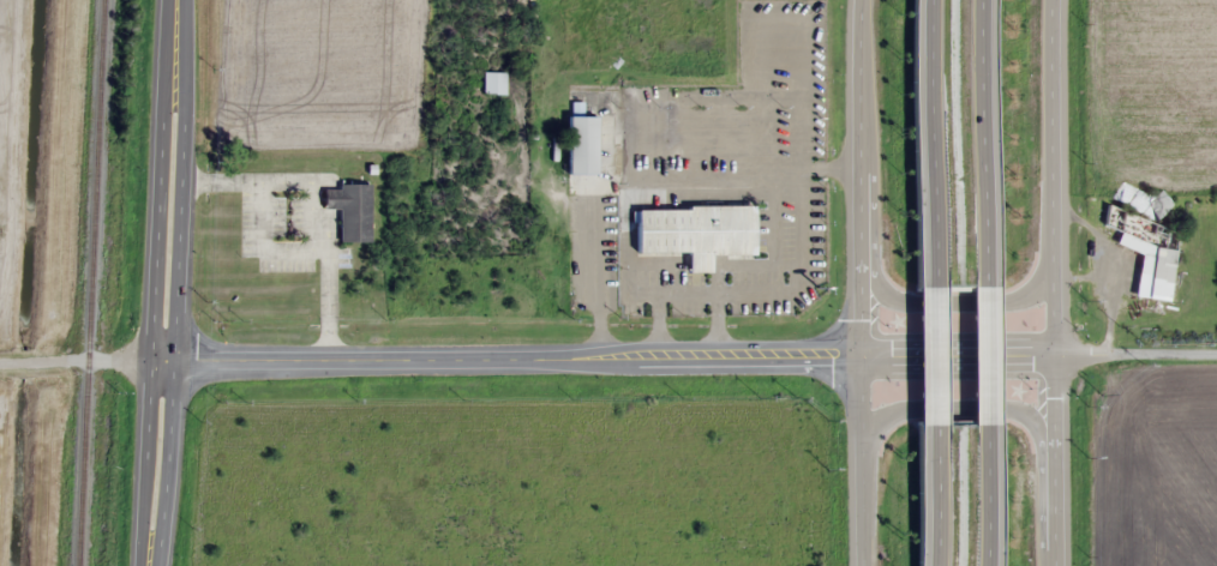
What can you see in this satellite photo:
building: (492, 82)
road: (985, 139)
road: (935, 141)
building: (578, 144)
road: (12, 152)
road: (168, 181)
building: (348, 209)
building: (694, 231)
building: (1146, 251)
railway: (88, 282)
road: (858, 282)
road: (1050, 282)
road: (952, 300)
road: (989, 351)
road: (936, 353)
road: (1134, 353)
road: (604, 359)
road: (79, 361)
road: (957, 409)
road: (154, 464)
road: (937, 494)
road: (990, 495)

